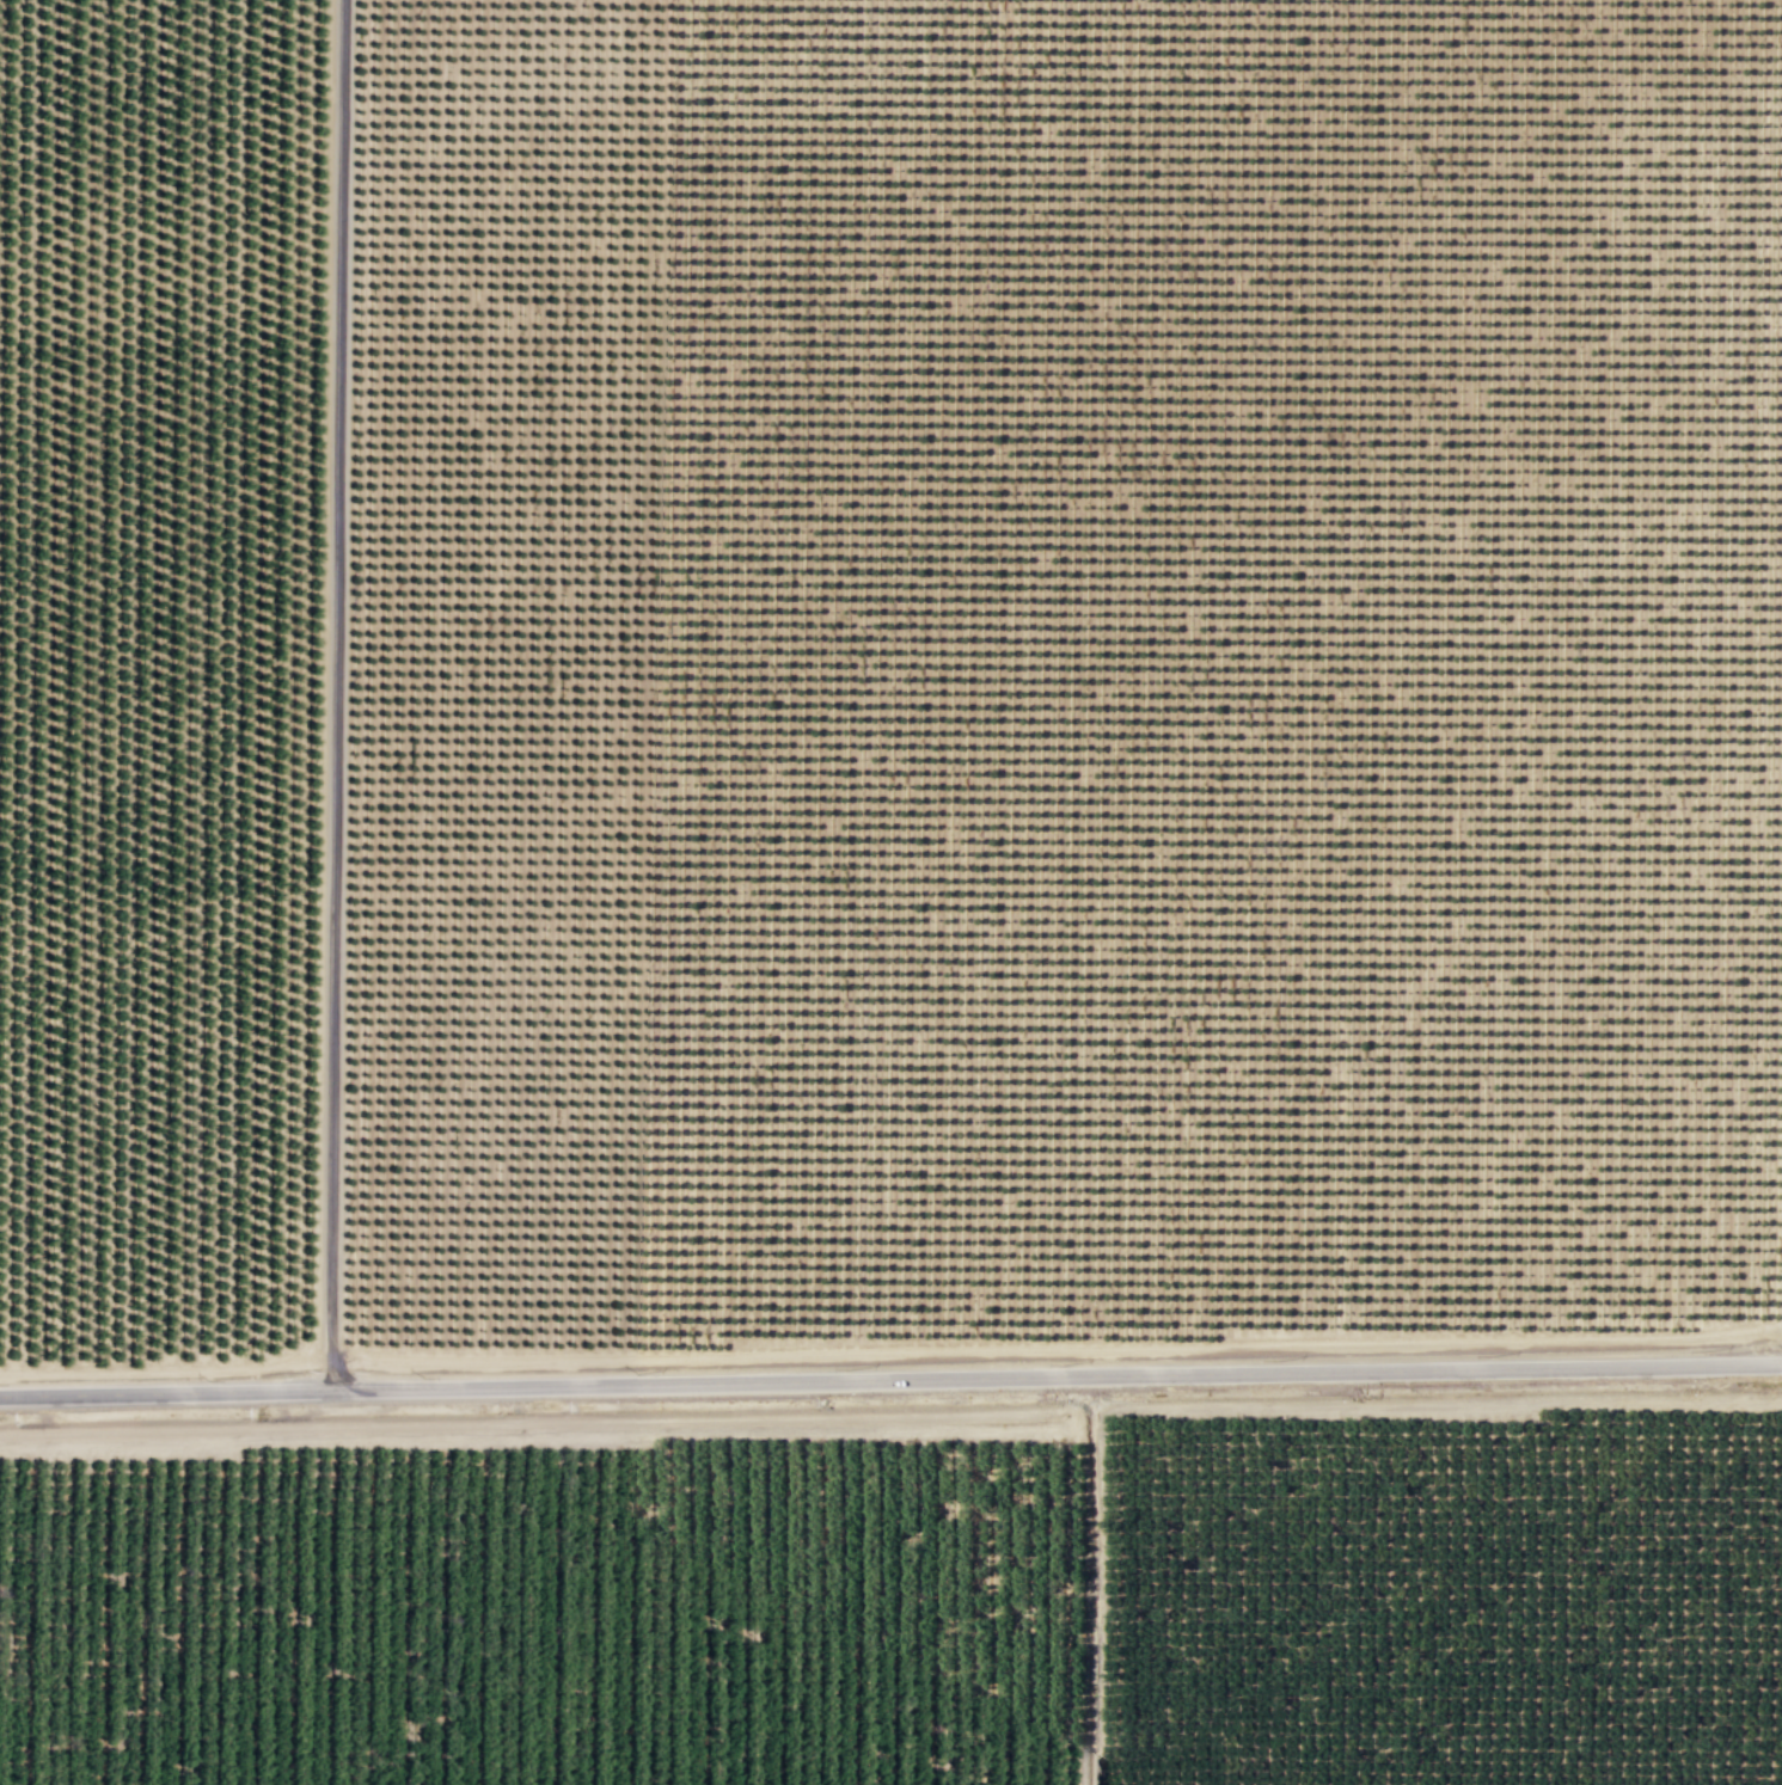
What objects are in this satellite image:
road: (333, 695)
road: (166, 1369)
road: (890, 1378)
road: (1255, 1403)
road: (721, 1421)

